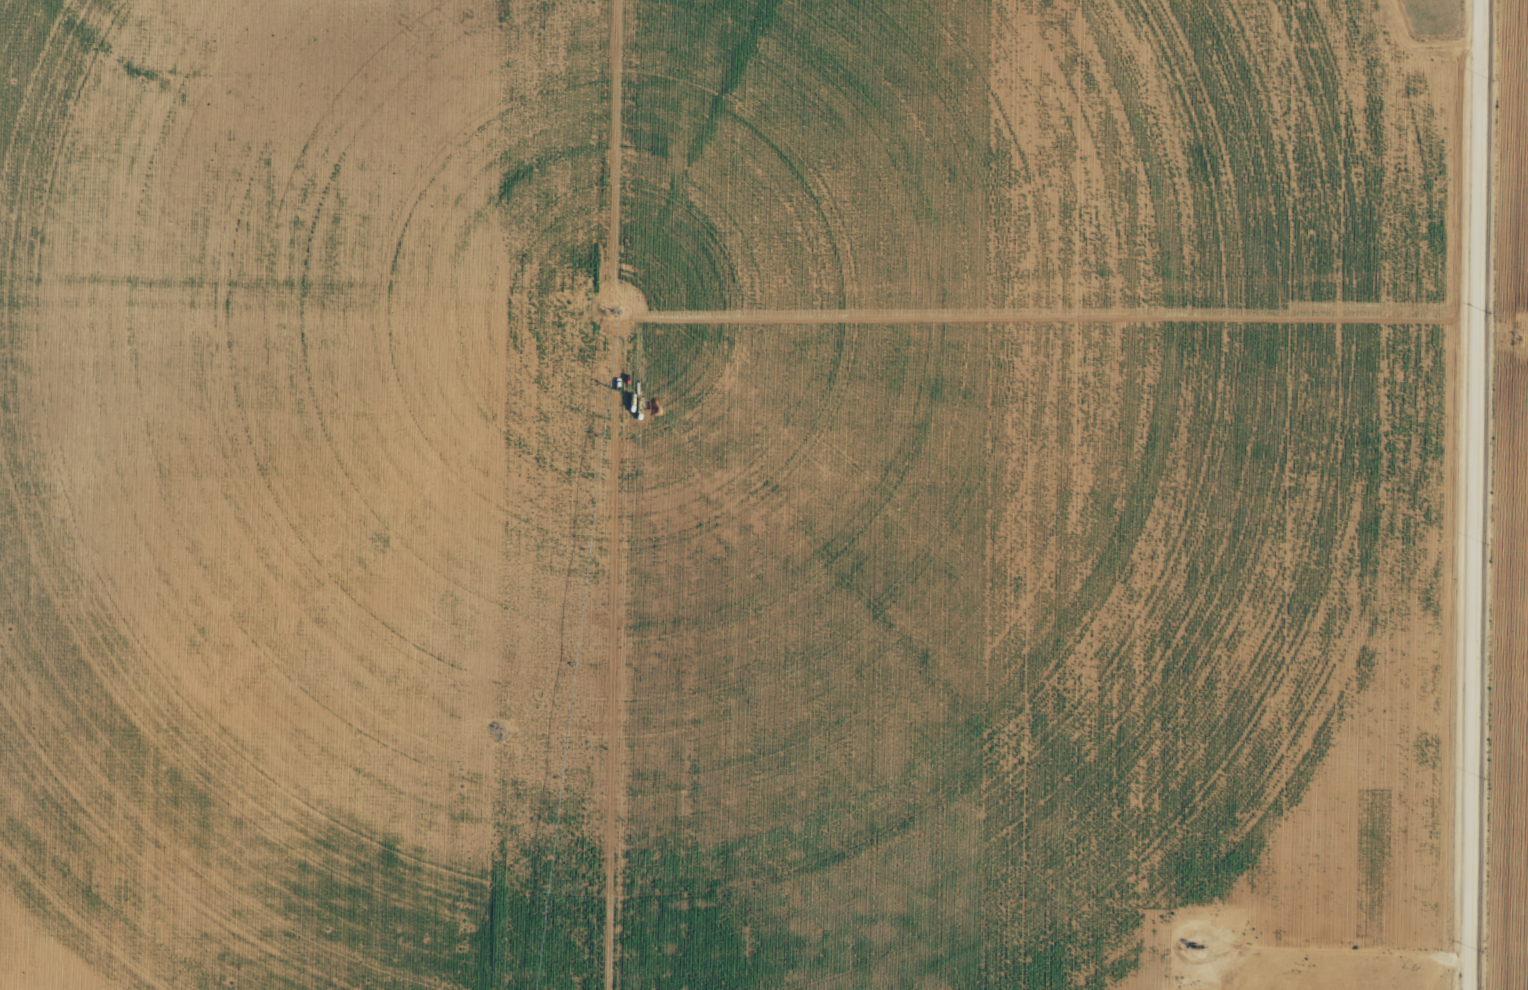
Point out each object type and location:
road: (1465, 495)
petroleum well: (1196, 944)

